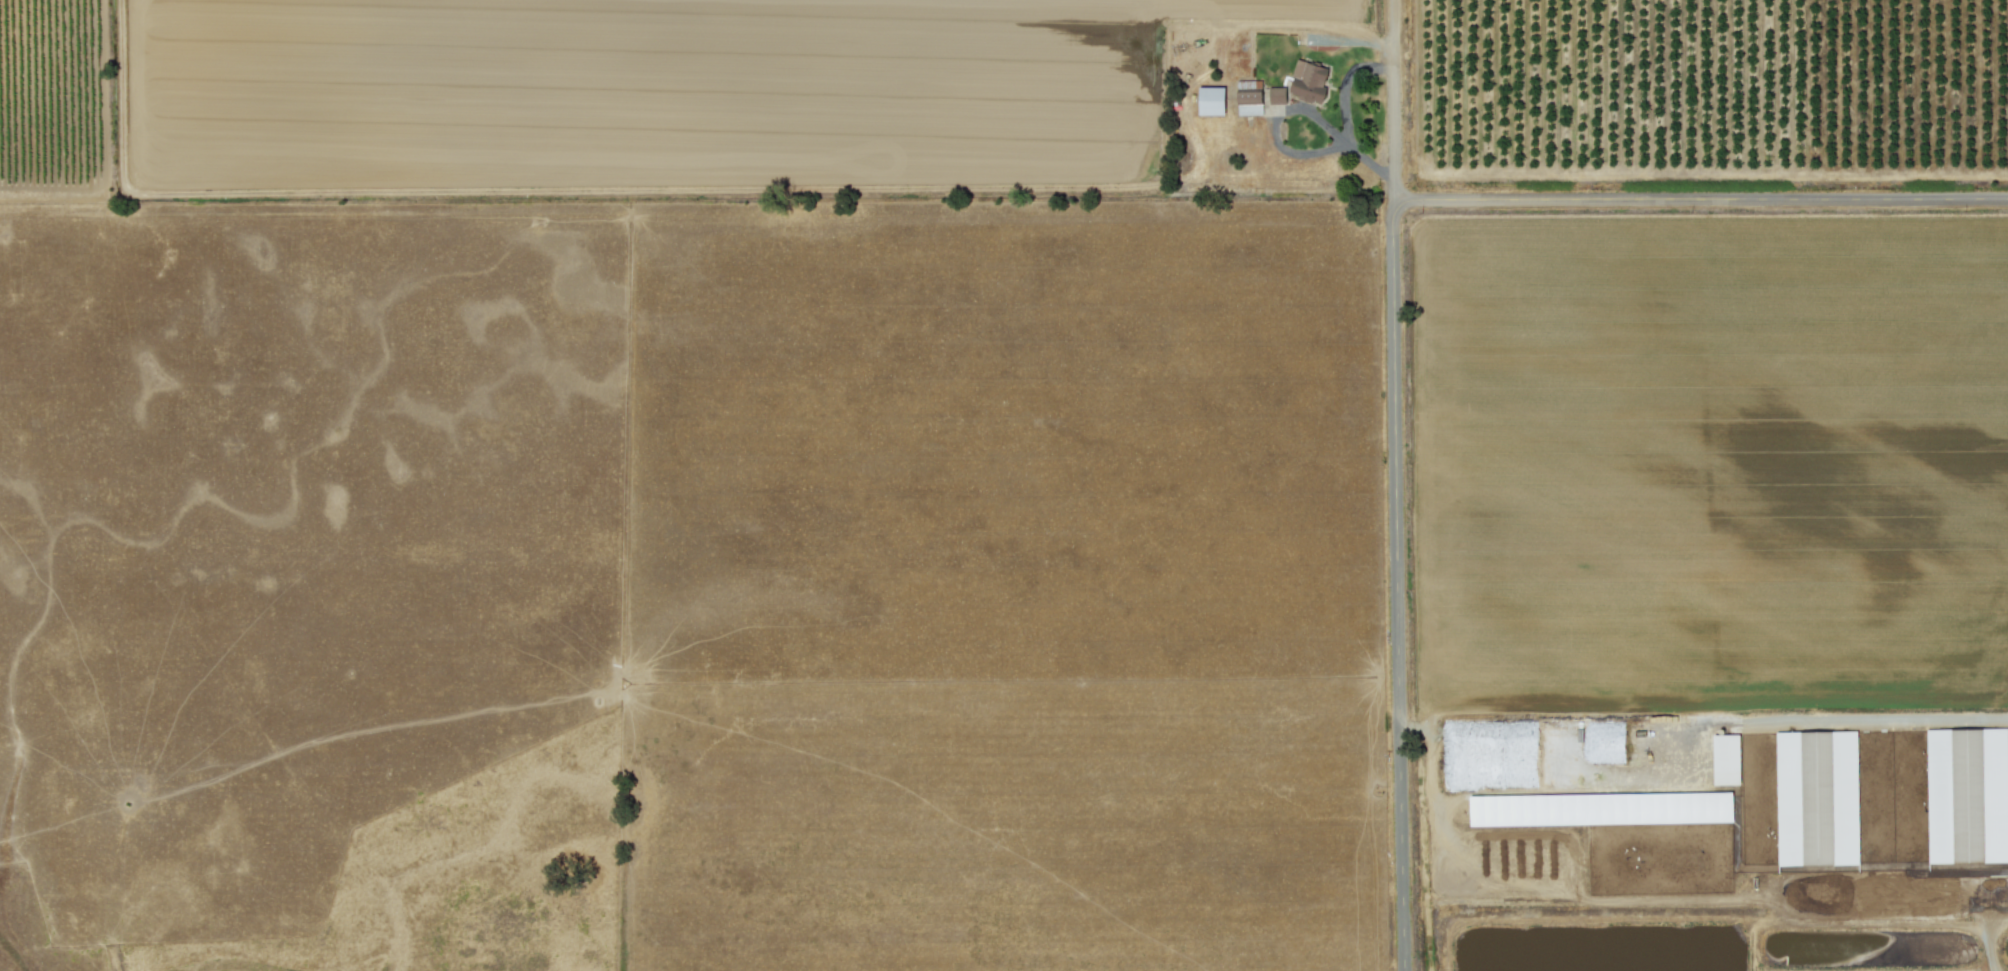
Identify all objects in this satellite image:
building: (1308, 80)
building: (1277, 94)
road: (1393, 97)
building: (1211, 100)
road: (1701, 196)
crop: (1004, 485)
road: (1399, 583)
road: (1861, 718)
building: (1726, 758)
building: (1967, 794)

